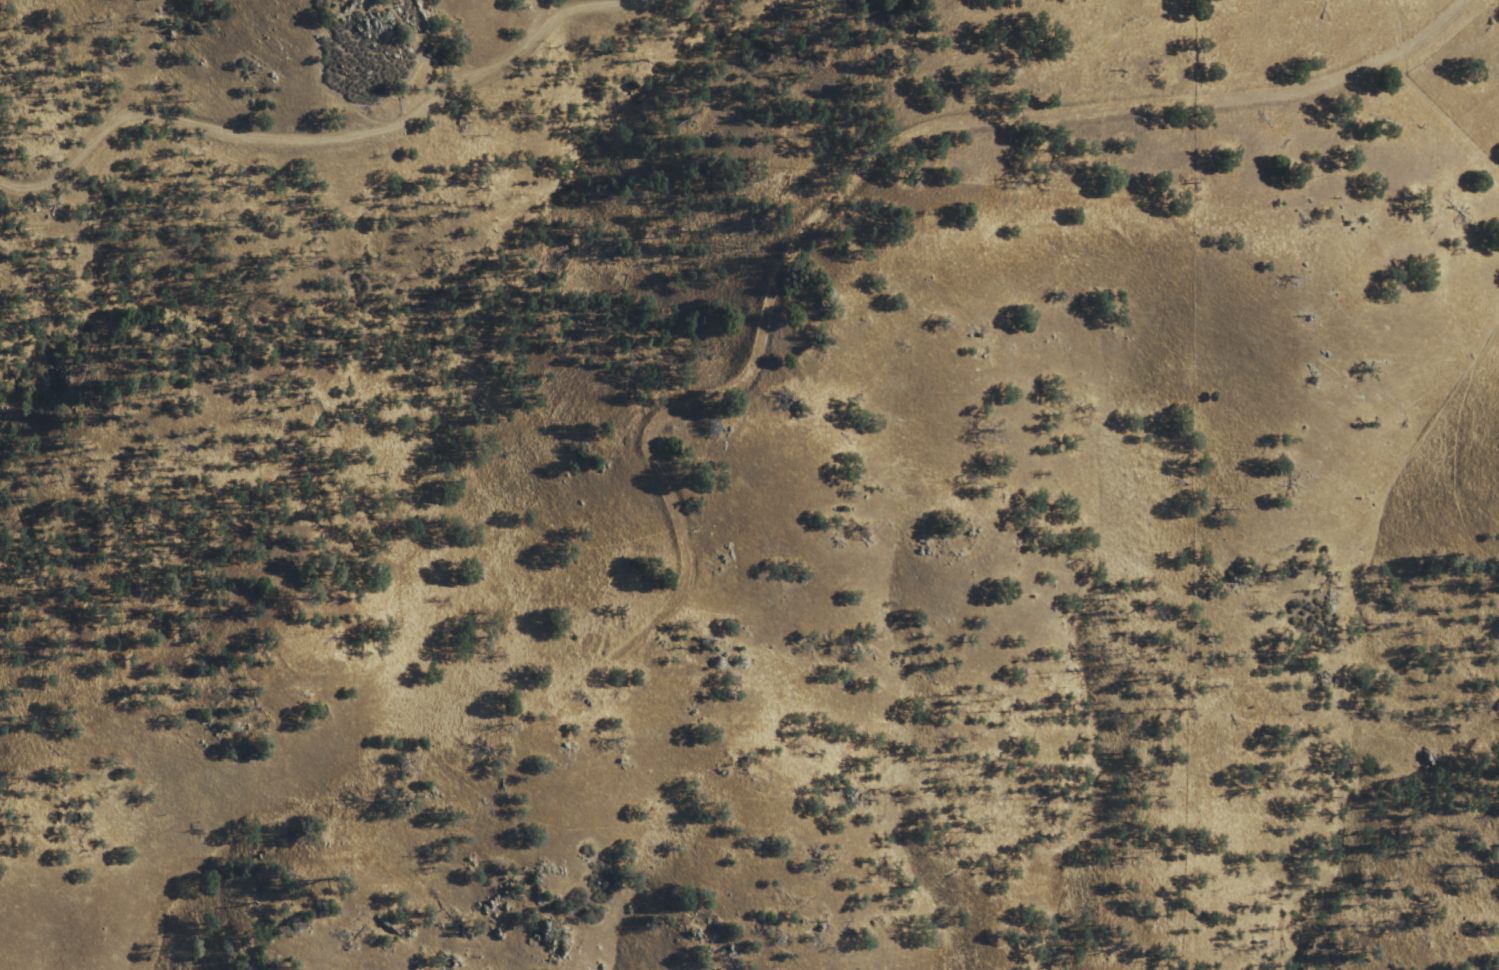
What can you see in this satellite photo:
road: (339, 147)
road: (902, 206)

